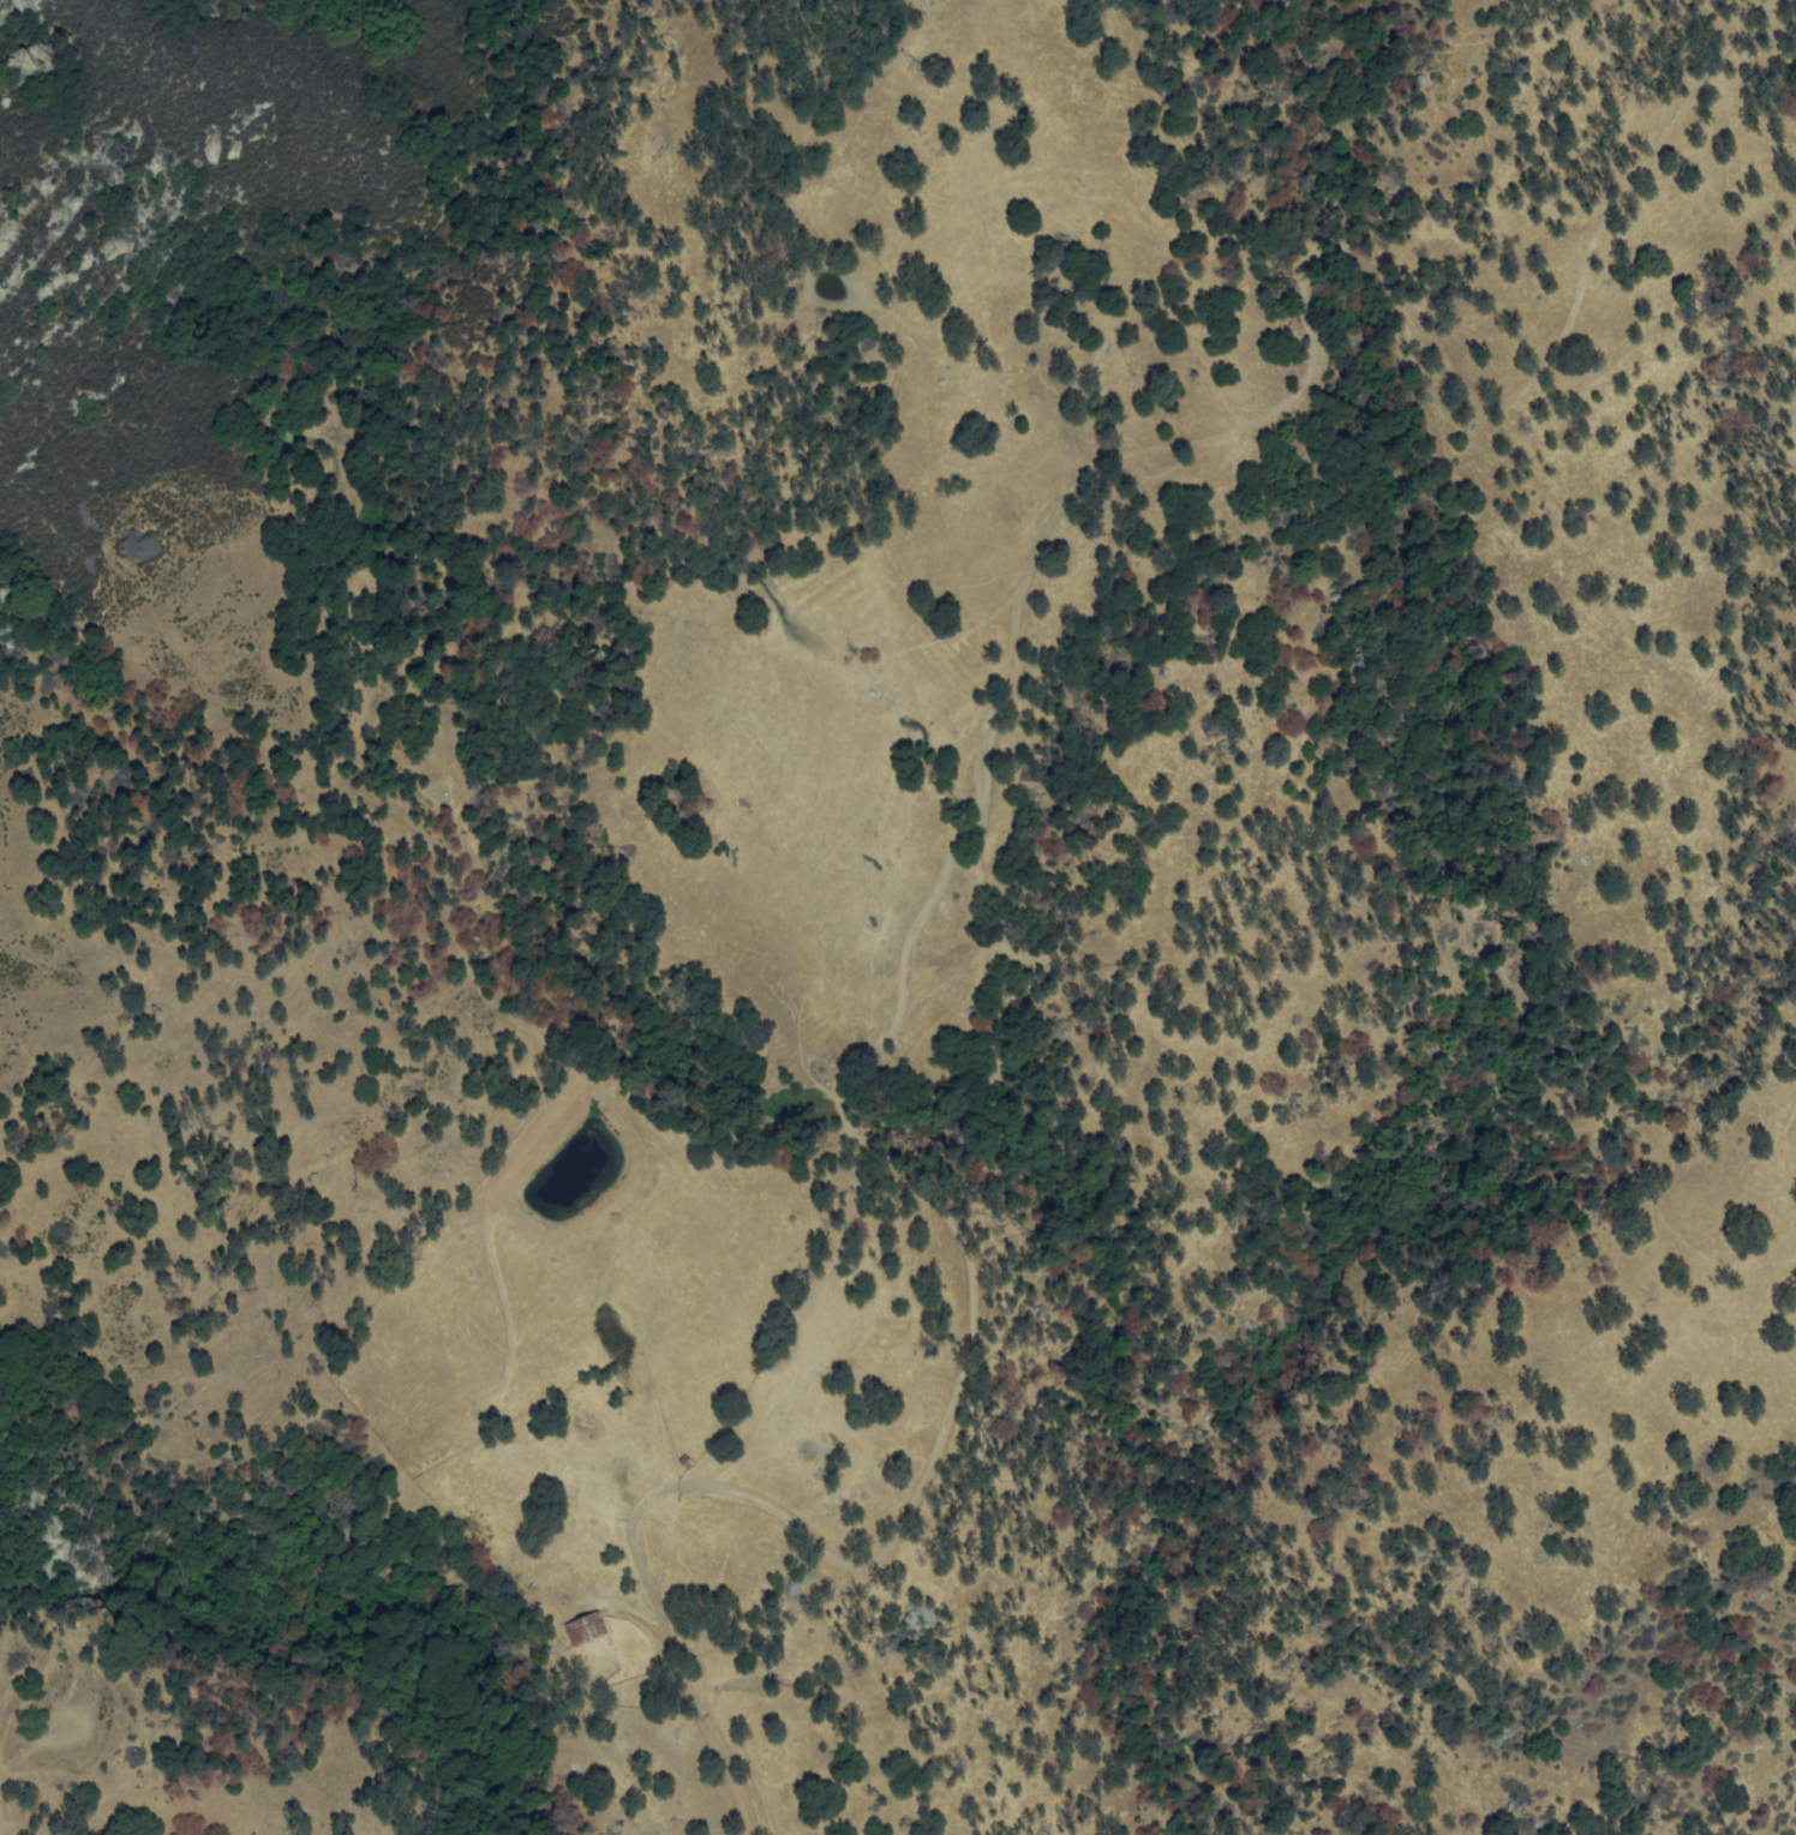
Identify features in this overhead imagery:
building: (583, 1630)

